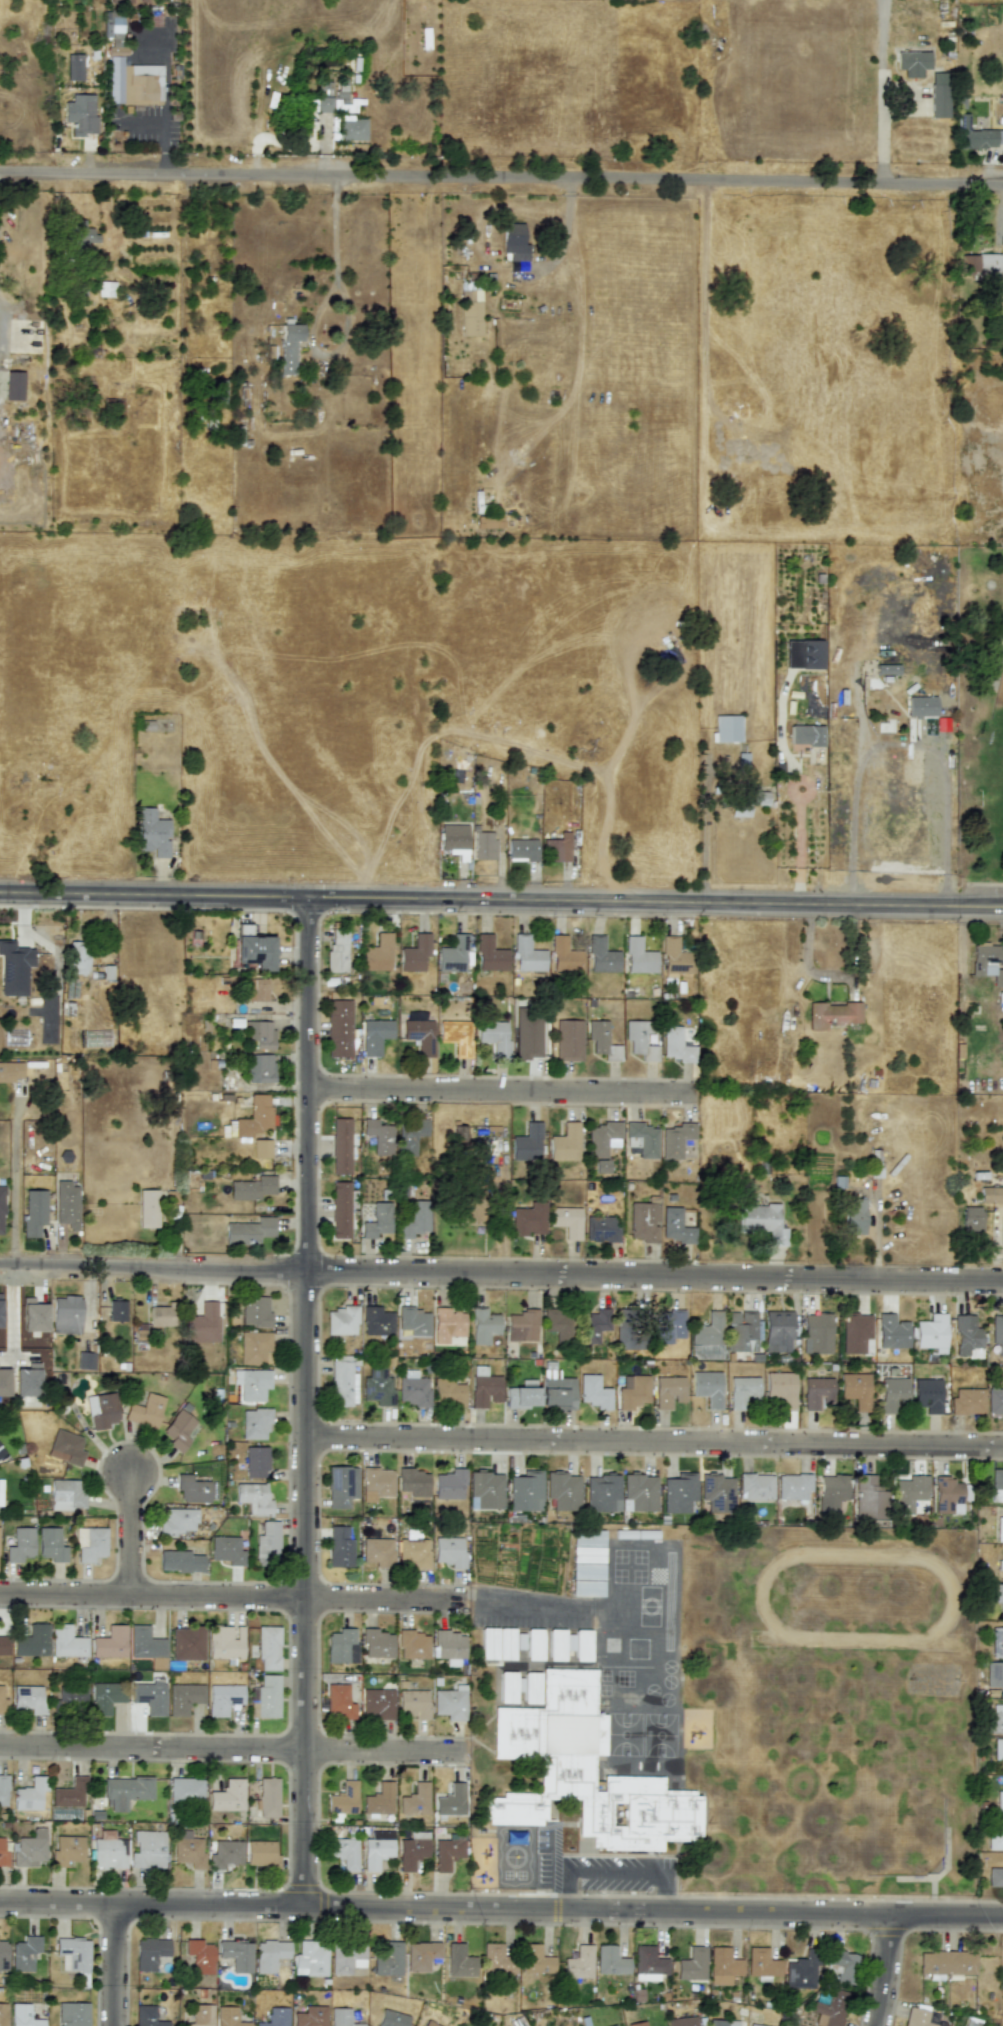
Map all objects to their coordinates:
building: (113, 26)
building: (912, 63)
road: (164, 66)
building: (74, 67)
building: (134, 83)
building: (324, 88)
road: (881, 91)
building: (939, 95)
building: (311, 104)
building: (333, 105)
building: (81, 114)
road: (143, 121)
building: (352, 128)
building: (977, 135)
road: (163, 136)
road: (161, 162)
road: (501, 177)
building: (80, 233)
building: (514, 241)
road: (19, 252)
building: (979, 265)
building: (105, 288)
building: (470, 309)
road: (316, 315)
building: (999, 319)
building: (288, 347)
building: (811, 654)
building: (887, 669)
building: (921, 706)
park: (978, 725)
building: (727, 728)
building: (806, 734)
road: (903, 747)
building: (750, 803)
building: (153, 833)
building: (453, 838)
road: (798, 844)
building: (484, 845)
building: (557, 848)
building: (522, 849)
road: (704, 849)
road: (501, 896)
building: (337, 950)
building: (415, 953)
building: (378, 954)
building: (455, 954)
building: (490, 955)
building: (527, 955)
building: (602, 956)
building: (639, 957)
building: (78, 958)
building: (675, 958)
building: (986, 963)
building: (14, 968)
building: (255, 990)
building: (832, 1014)
building: (339, 1028)
building: (260, 1034)
building: (419, 1035)
building: (375, 1036)
building: (456, 1036)
building: (494, 1036)
building: (15, 1037)
building: (527, 1037)
building: (568, 1040)
building: (602, 1041)
building: (639, 1041)
building: (73, 1042)
building: (675, 1045)
building: (261, 1068)
building: (11, 1072)
road: (502, 1091)
building: (255, 1116)
building: (410, 1135)
building: (379, 1136)
building: (642, 1139)
building: (675, 1140)
building: (527, 1142)
building: (565, 1143)
building: (602, 1143)
building: (341, 1145)
building: (261, 1148)
building: (252, 1188)
road: (13, 1189)
building: (991, 1194)
building: (66, 1205)
building: (148, 1208)
building: (471, 1209)
building: (340, 1210)
building: (2, 1211)
building: (34, 1213)
building: (854, 1217)
building: (971, 1219)
building: (528, 1220)
building: (377, 1221)
building: (414, 1221)
building: (567, 1221)
building: (643, 1221)
building: (763, 1222)
building: (675, 1227)
building: (601, 1229)
building: (249, 1231)
road: (501, 1271)
building: (117, 1311)
building: (255, 1311)
building: (66, 1315)
building: (33, 1316)
building: (161, 1316)
building: (341, 1321)
building: (414, 1321)
building: (377, 1322)
building: (203, 1323)
building: (558, 1323)
building: (447, 1325)
building: (594, 1325)
building: (483, 1326)
building: (522, 1326)
building: (667, 1326)
building: (627, 1330)
building: (778, 1331)
building: (931, 1331)
building: (741, 1332)
building: (892, 1332)
building: (855, 1333)
building: (997, 1333)
building: (816, 1334)
building: (966, 1335)
building: (707, 1337)
building: (254, 1346)
building: (85, 1361)
building: (252, 1384)
building: (343, 1384)
building: (377, 1388)
building: (484, 1388)
building: (707, 1388)
building: (781, 1388)
building: (413, 1389)
building: (856, 1389)
building: (557, 1391)
building: (742, 1391)
building: (447, 1392)
building: (593, 1392)
building: (632, 1392)
building: (668, 1392)
building: (817, 1393)
building: (892, 1393)
building: (927, 1395)
building: (521, 1398)
road: (305, 1399)
building: (967, 1401)
building: (994, 1401)
building: (102, 1411)
building: (146, 1411)
building: (255, 1424)
building: (178, 1430)
road: (654, 1441)
building: (66, 1447)
building: (256, 1461)
building: (378, 1481)
building: (414, 1482)
building: (449, 1484)
building: (341, 1486)
building: (755, 1486)
building: (996, 1486)
building: (793, 1487)
building: (192, 1489)
building: (485, 1490)
building: (526, 1491)
building: (563, 1491)
building: (679, 1492)
building: (717, 1492)
building: (908, 1492)
building: (0, 1493)
building: (602, 1493)
building: (639, 1493)
building: (831, 1494)
building: (66, 1495)
building: (947, 1496)
building: (254, 1498)
building: (868, 1499)
building: (178, 1521)
building: (999, 1529)
road: (129, 1533)
building: (588, 1538)
building: (267, 1543)
building: (51, 1544)
building: (90, 1544)
building: (21, 1545)
building: (340, 1546)
building: (227, 1550)
building: (377, 1551)
building: (413, 1551)
building: (449, 1551)
building: (587, 1554)
building: (181, 1561)
building: (1000, 1565)
building: (587, 1580)
road: (235, 1595)
building: (996, 1595)
road: (528, 1603)
building: (32, 1641)
building: (66, 1642)
building: (997, 1642)
building: (110, 1643)
building: (225, 1643)
building: (377, 1643)
building: (497, 1643)
building: (146, 1644)
building: (187, 1644)
building: (534, 1644)
building: (556, 1644)
building: (4, 1645)
building: (339, 1645)
building: (413, 1645)
building: (582, 1645)
building: (450, 1647)
building: (268, 1648)
building: (994, 1675)
building: (149, 1696)
building: (268, 1696)
building: (70, 1697)
building: (105, 1697)
building: (184, 1698)
building: (223, 1698)
building: (28, 1699)
building: (339, 1701)
building: (2, 1702)
building: (378, 1703)
building: (450, 1703)
building: (413, 1704)
building: (994, 1719)
road: (235, 1748)
building: (998, 1749)
building: (583, 1773)
building: (3, 1790)
building: (185, 1790)
building: (125, 1791)
building: (30, 1794)
building: (69, 1794)
building: (227, 1796)
building: (267, 1797)
building: (343, 1799)
building: (379, 1799)
building: (415, 1800)
building: (451, 1801)
building: (999, 1801)
building: (996, 1838)
road: (555, 1848)
building: (30, 1849)
building: (187, 1849)
building: (376, 1849)
building: (67, 1850)
building: (147, 1850)
building: (412, 1850)
building: (448, 1851)
building: (343, 1852)
building: (109, 1853)
building: (3, 1854)
building: (225, 1854)
building: (261, 1854)
road: (610, 1871)
building: (995, 1877)
road: (553, 1888)
road: (665, 1891)
road: (501, 1907)
building: (25, 1953)
building: (150, 1953)
building: (73, 1954)
building: (3, 1955)
building: (236, 1955)
building: (270, 1955)
building: (421, 1955)
building: (200, 1956)
building: (497, 1957)
building: (311, 1959)
building: (346, 1959)
building: (388, 1960)
building: (535, 1960)
building: (459, 1961)
building: (611, 1961)
building: (579, 1963)
building: (648, 1963)
building: (947, 1963)
road: (113, 1964)
building: (692, 1964)
building: (762, 1964)
building: (842, 1965)
building: (723, 1966)
road: (885, 1969)
building: (800, 1973)
building: (831, 2008)
building: (3, 2014)
building: (73, 2014)
building: (201, 2015)
building: (23, 2016)
building: (147, 2016)
building: (310, 2016)
building: (229, 2017)
building: (276, 2017)
building: (341, 2017)
building: (916, 2017)
building: (392, 2018)
building: (683, 2021)
building: (518, 2022)
building: (723, 2022)
building: (429, 2023)
building: (637, 2024)
building: (613, 2025)
building: (754, 2025)

